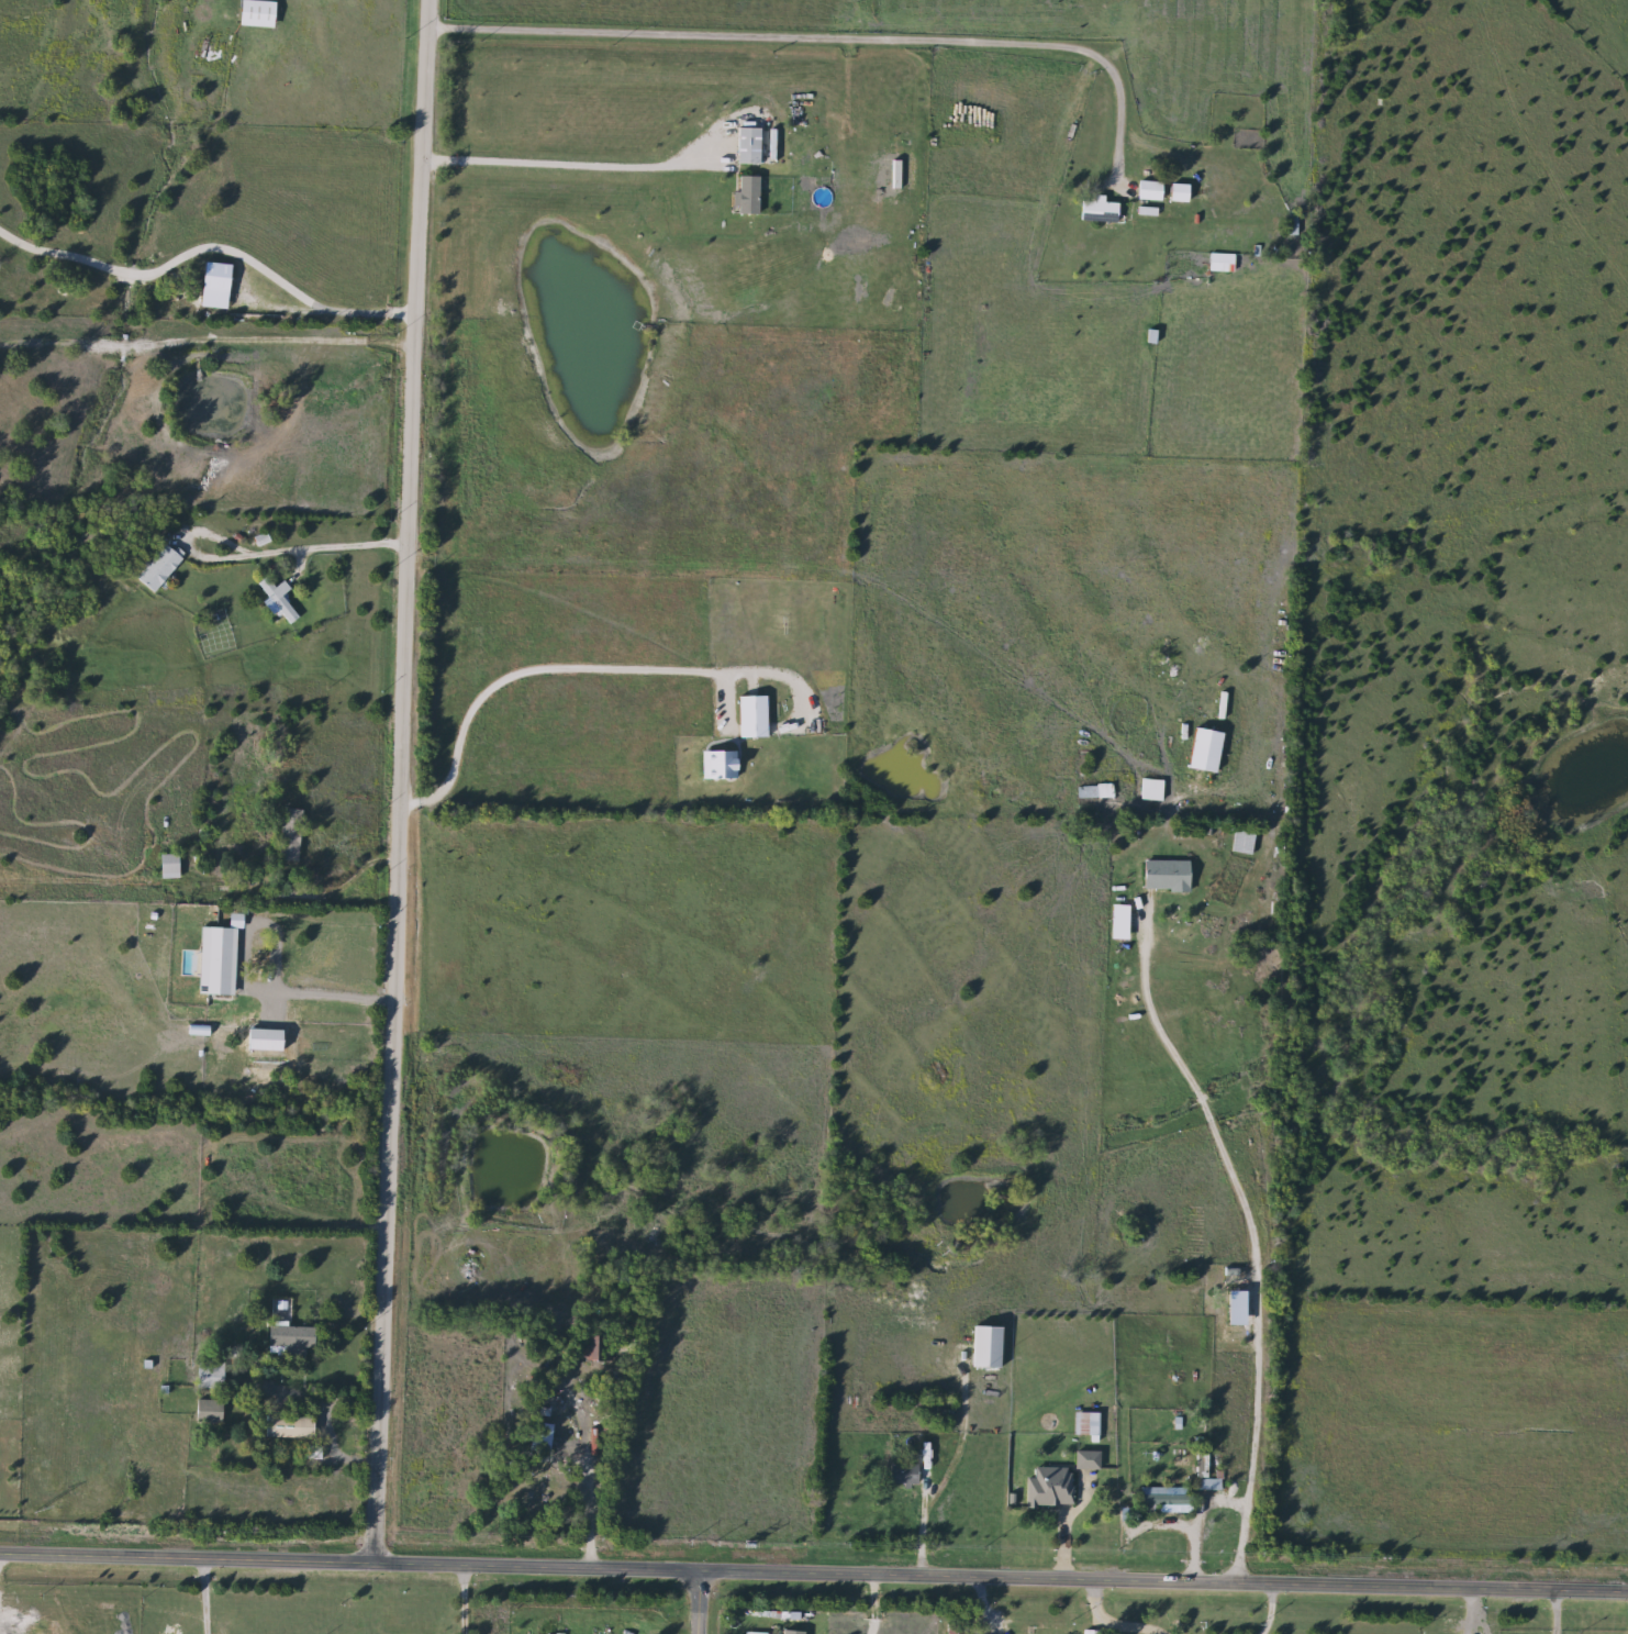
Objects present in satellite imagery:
building: (253, 13)
road: (823, 36)
building: (745, 146)
road: (573, 159)
building: (1147, 191)
building: (745, 194)
building: (1094, 210)
road: (207, 241)
building: (1217, 264)
building: (216, 277)
building: (207, 301)
road: (204, 338)
road: (257, 552)
building: (156, 568)
building: (276, 600)
road: (579, 666)
building: (748, 718)
building: (1201, 751)
road: (395, 780)
building: (287, 835)
building: (166, 866)
building: (1162, 876)
building: (256, 956)
road: (330, 994)
road: (1253, 1234)
building: (1228, 1305)
building: (286, 1333)
building: (983, 1346)
building: (208, 1376)
building: (205, 1411)
road: (325, 1418)
building: (1083, 1423)
building: (286, 1426)
building: (1084, 1460)
building: (900, 1475)
building: (1207, 1485)
building: (1047, 1487)
building: (1158, 1498)
road: (587, 1502)
road: (813, 1575)
road: (212, 1593)
road: (471, 1600)
road: (699, 1603)
road: (1270, 1610)
road: (1478, 1612)
road: (1111, 1623)
building: (954, 1632)

